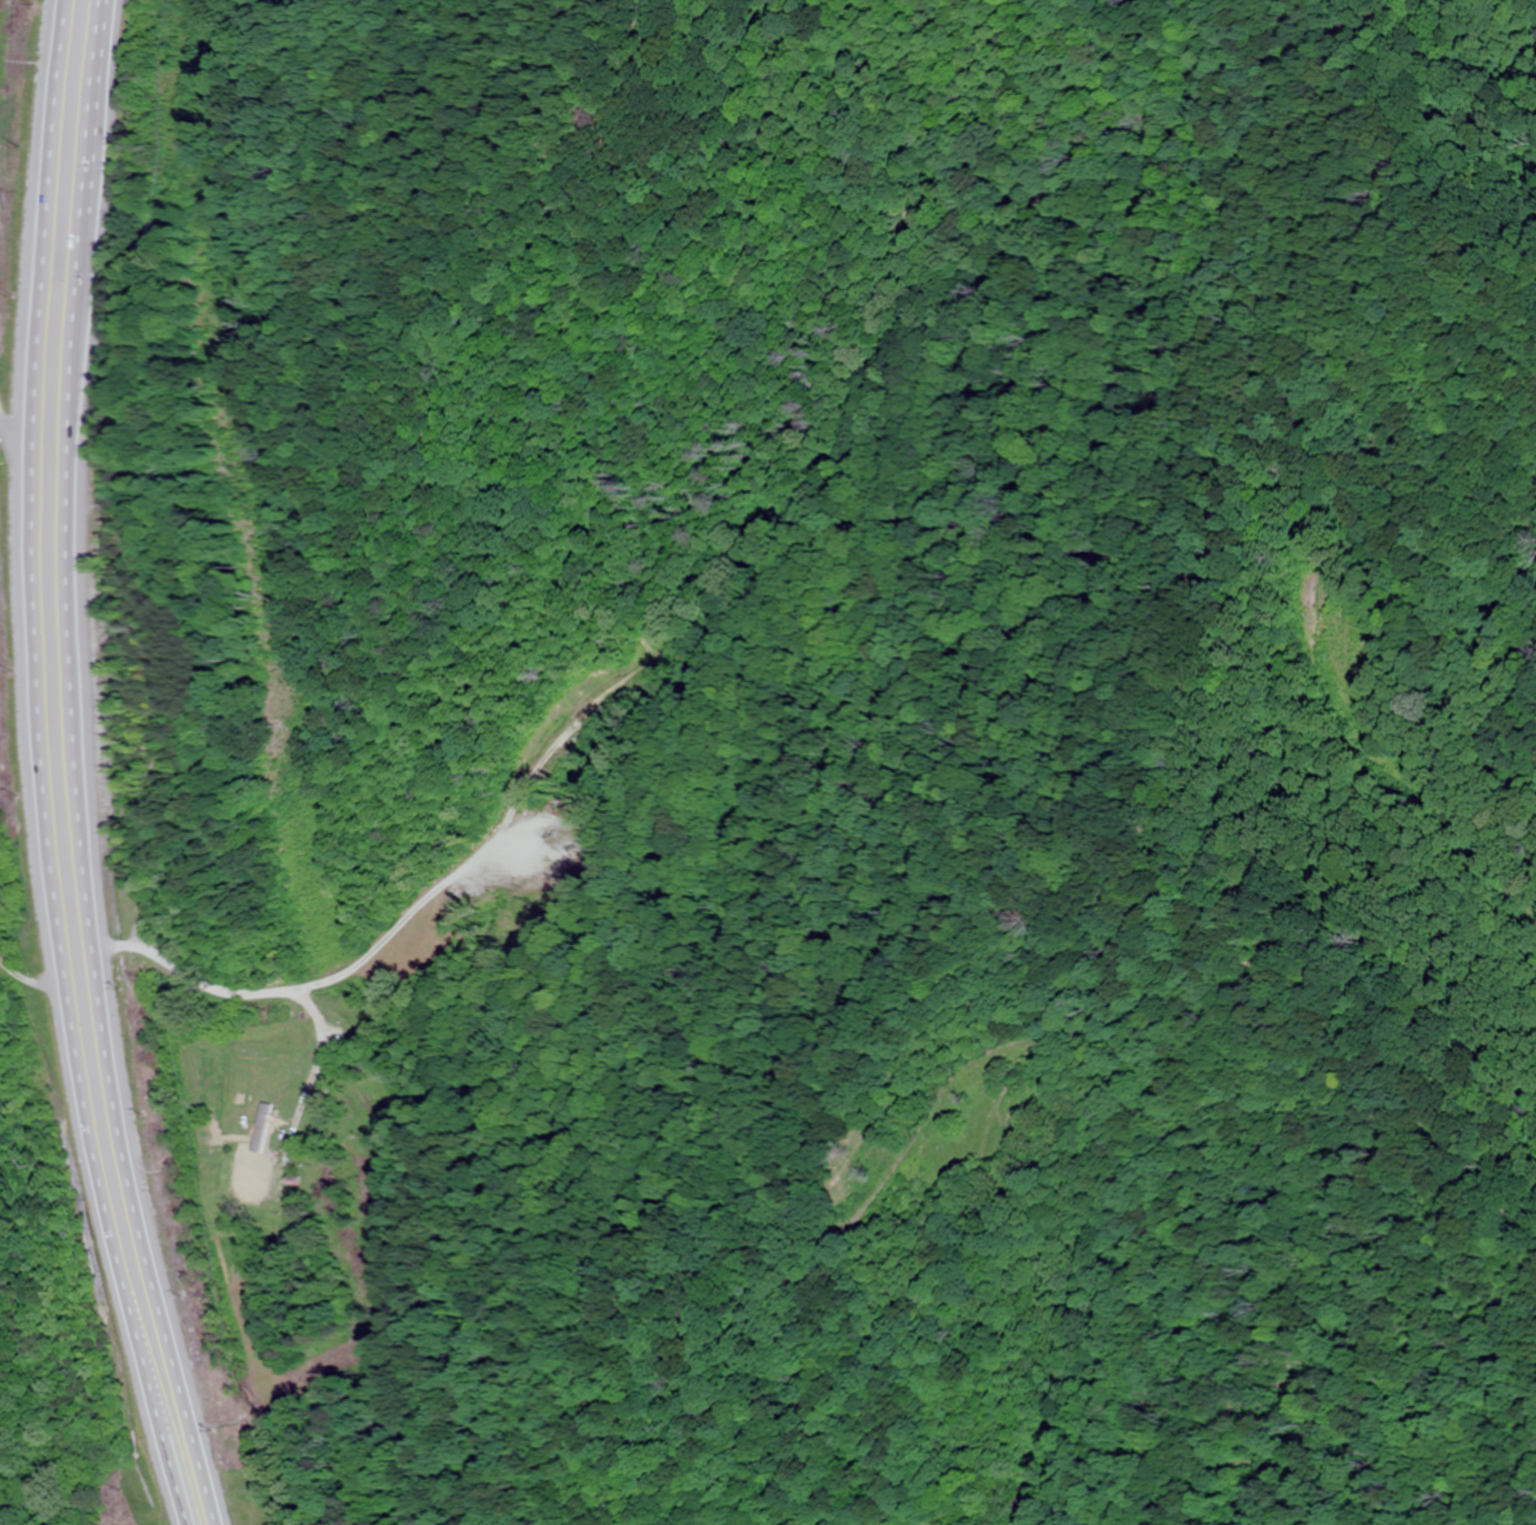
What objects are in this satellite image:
road: (8, 419)
road: (38, 769)
road: (75, 769)
road: (156, 986)
road: (25, 1036)
building: (290, 1178)

